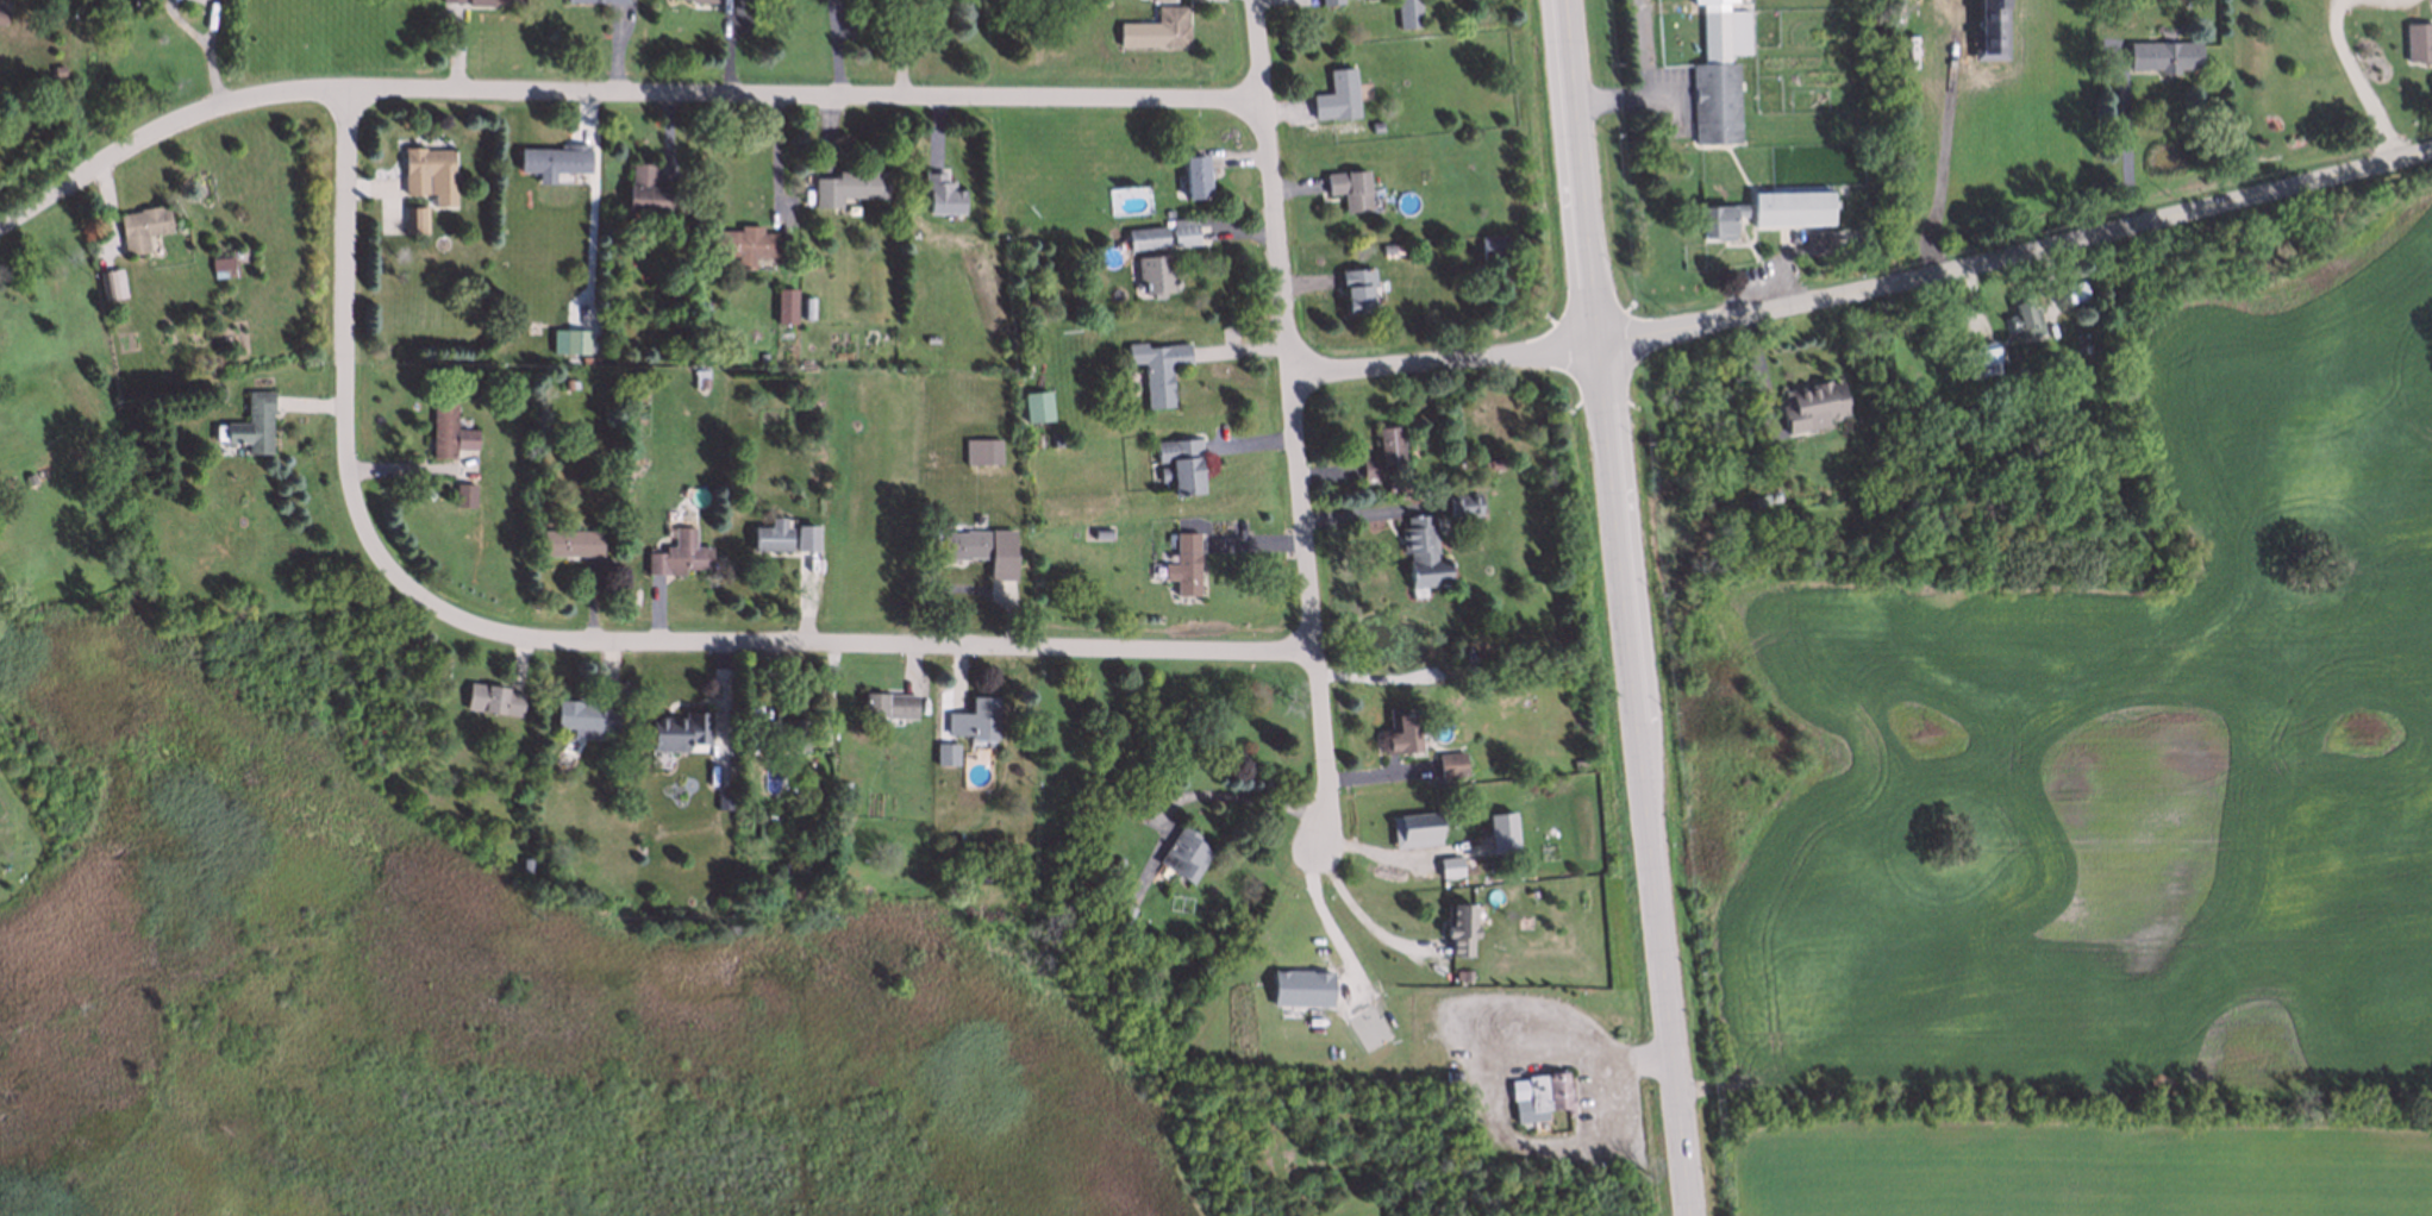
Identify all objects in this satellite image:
building: (493, 1)
building: (1328, 1)
building: (1406, 12)
building: (1, 13)
road: (211, 17)
road: (182, 24)
building: (1168, 25)
building: (2417, 43)
building: (2162, 54)
building: (57, 71)
road: (212, 71)
building: (1721, 74)
road: (2355, 80)
road: (615, 95)
building: (1334, 95)
building: (1374, 127)
road: (2126, 133)
building: (552, 158)
building: (427, 170)
building: (1193, 175)
building: (845, 186)
building: (643, 188)
building: (1348, 188)
building: (938, 192)
building: (1793, 209)
building: (413, 214)
building: (1715, 218)
building: (139, 226)
building: (1182, 232)
building: (1144, 237)
building: (745, 242)
road: (2017, 246)
building: (1386, 247)
building: (219, 262)
building: (1151, 271)
building: (110, 282)
building: (1356, 287)
building: (2072, 288)
building: (783, 303)
building: (805, 306)
building: (2021, 315)
building: (2080, 337)
building: (574, 339)
building: (759, 355)
building: (1980, 358)
road: (1452, 364)
building: (1159, 370)
building: (564, 378)
building: (701, 378)
road: (346, 387)
building: (215, 389)
building: (1034, 405)
building: (1812, 405)
building: (251, 420)
road: (1303, 424)
building: (446, 431)
building: (1418, 432)
building: (1052, 437)
building: (980, 450)
building: (1382, 452)
building: (1179, 463)
building: (27, 475)
building: (602, 477)
building: (463, 493)
building: (1461, 503)
building: (977, 515)
building: (1099, 531)
building: (768, 533)
building: (802, 535)
building: (569, 540)
building: (981, 547)
building: (1420, 550)
building: (676, 552)
building: (1181, 562)
road: (1628, 608)
road: (895, 645)
building: (492, 697)
building: (886, 703)
building: (581, 716)
building: (971, 717)
building: (673, 729)
building: (773, 732)
building: (1400, 733)
building: (625, 744)
building: (1577, 759)
building: (1448, 763)
building: (844, 786)
road: (1232, 797)
building: (842, 806)
building: (769, 819)
building: (1182, 853)
building: (1115, 859)
building: (524, 861)
building: (984, 861)
building: (782, 865)
building: (704, 896)
building: (751, 900)
building: (1117, 913)
road: (1358, 913)
building: (1456, 928)
building: (1074, 930)
building: (1464, 973)
building: (1154, 1061)
building: (1450, 1073)
road: (1487, 1096)
building: (1542, 1098)

